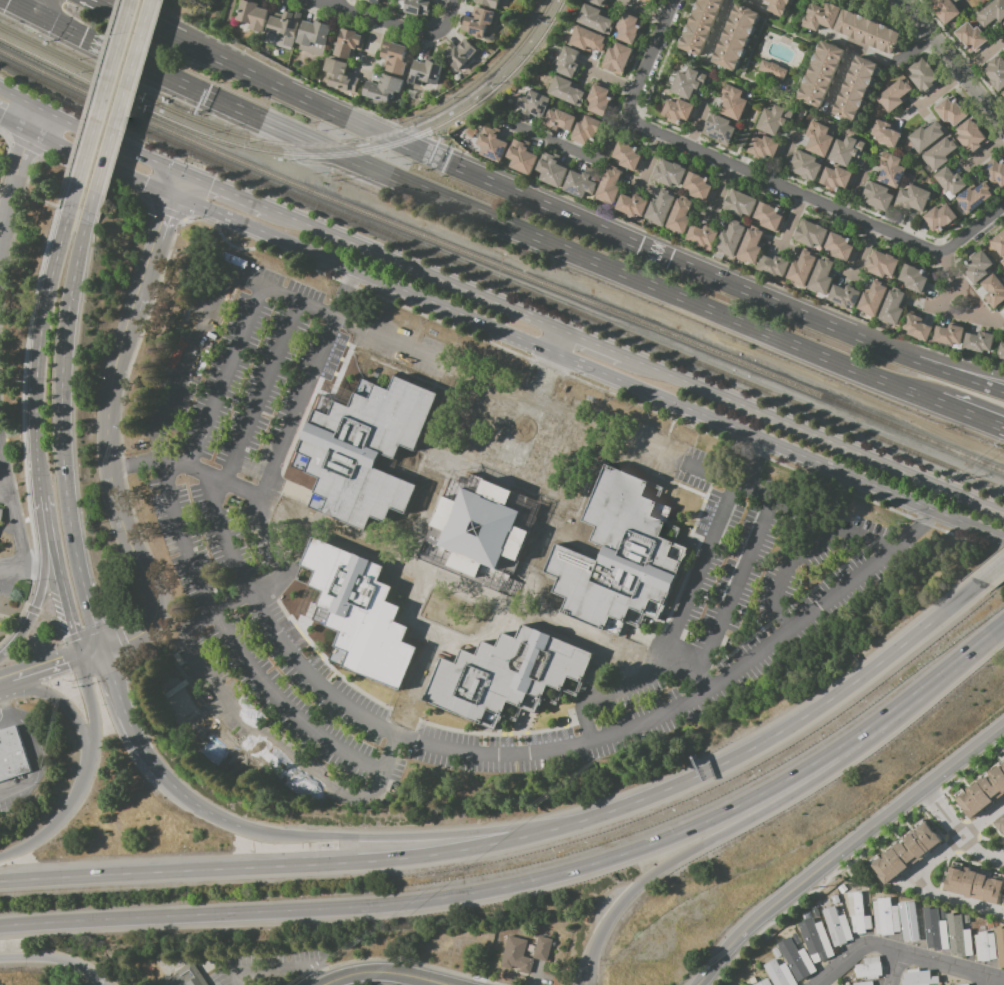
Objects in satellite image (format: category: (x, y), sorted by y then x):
building: (953, 0)
building: (955, 0)
building: (373, 1)
building: (649, 1)
road: (333, 2)
building: (599, 2)
building: (488, 3)
road: (754, 3)
road: (16, 4)
road: (25, 4)
building: (779, 6)
road: (42, 7)
building: (416, 7)
traffic signals: (24, 8)
building: (945, 10)
road: (31, 11)
building: (991, 13)
building: (252, 14)
traffic signals: (39, 15)
building: (822, 16)
road: (915, 18)
building: (595, 19)
building: (479, 22)
building: (284, 23)
road: (392, 23)
road: (176, 24)
building: (701, 25)
building: (1003, 25)
building: (627, 27)
road: (719, 27)
road: (770, 27)
road: (156, 29)
building: (868, 31)
road: (77, 33)
building: (313, 37)
building: (736, 37)
building: (971, 37)
building: (589, 40)
road: (820, 40)
building: (348, 43)
road: (373, 49)
railway: (6, 53)
building: (460, 55)
road: (879, 56)
road: (979, 56)
building: (394, 58)
building: (617, 58)
road: (647, 59)
road: (752, 61)
building: (568, 62)
railway: (14, 66)
building: (772, 69)
building: (425, 73)
building: (820, 74)
building: (995, 74)
building: (339, 75)
building: (924, 75)
railway: (99, 76)
road: (840, 76)
railway: (505, 78)
road: (610, 79)
building: (688, 82)
railway: (97, 85)
road: (967, 85)
building: (383, 88)
building: (855, 88)
road: (936, 90)
building: (566, 91)
building: (894, 94)
traffic signals: (209, 95)
road: (796, 95)
road: (128, 96)
building: (1002, 96)
building: (599, 100)
building: (732, 102)
building: (532, 105)
building: (678, 110)
building: (951, 111)
road: (698, 118)
road: (1, 119)
building: (774, 119)
building: (559, 120)
road: (16, 123)
building: (719, 128)
railway: (398, 130)
building: (587, 130)
road: (91, 132)
building: (885, 133)
building: (972, 135)
building: (926, 136)
building: (818, 138)
building: (491, 147)
building: (765, 147)
building: (846, 150)
road: (573, 151)
road: (984, 152)
building: (939, 153)
railway: (309, 155)
building: (627, 156)
building: (522, 157)
road: (650, 157)
road: (782, 158)
traffic signals: (439, 159)
road: (103, 165)
building: (806, 165)
building: (890, 169)
building: (551, 172)
building: (994, 172)
building: (668, 173)
road: (18, 176)
building: (836, 178)
building: (950, 180)
traffic signals: (144, 184)
building: (579, 184)
road: (179, 185)
traffic signals: (211, 185)
building: (609, 185)
building: (698, 186)
road: (856, 189)
road: (223, 190)
road: (718, 191)
road: (78, 195)
building: (878, 196)
building: (974, 197)
building: (914, 198)
road: (534, 199)
road: (820, 200)
building: (739, 204)
building: (631, 205)
road: (4, 206)
building: (660, 207)
road: (475, 211)
building: (680, 215)
traffic signals: (168, 216)
building: (769, 216)
building: (940, 218)
road: (790, 220)
building: (810, 234)
road: (264, 235)
building: (703, 235)
building: (731, 237)
building: (998, 243)
building: (750, 246)
building: (840, 246)
road: (155, 253)
building: (1003, 262)
building: (881, 264)
building: (774, 266)
railway: (507, 267)
building: (802, 267)
building: (978, 267)
road: (412, 270)
building: (822, 276)
building: (913, 278)
railway: (513, 286)
building: (994, 289)
building: (844, 295)
building: (873, 297)
building: (1003, 303)
building: (892, 306)
road: (976, 315)
road: (985, 316)
building: (917, 327)
building: (949, 335)
building: (978, 341)
road: (604, 349)
road: (893, 349)
building: (1002, 350)
road: (550, 366)
road: (657, 371)
road: (969, 371)
road: (865, 374)
road: (969, 376)
road: (226, 380)
road: (306, 384)
road: (111, 389)
road: (180, 394)
road: (262, 395)
road: (948, 406)
road: (678, 407)
road: (64, 421)
road: (501, 429)
road: (39, 442)
road: (543, 446)
road: (836, 447)
building: (363, 448)
road: (751, 464)
road: (185, 470)
road: (508, 473)
road: (7, 495)
road: (15, 507)
building: (1, 513)
road: (45, 515)
building: (480, 528)
parking lot: (792, 528)
road: (913, 531)
building: (621, 556)
road: (994, 569)
road: (13, 571)
road: (790, 571)
road: (148, 576)
road: (64, 597)
road: (729, 600)
road: (37, 604)
building: (356, 612)
traffic signals: (74, 632)
road: (674, 637)
traffic signals: (126, 641)
traffic signals: (101, 649)
road: (90, 652)
traffic signals: (66, 662)
road: (40, 670)
traffic signals: (110, 672)
building: (508, 676)
road: (704, 679)
road: (213, 686)
road: (694, 700)
road: (10, 701)
road: (124, 711)
road: (78, 719)
road: (798, 720)
road: (8, 724)
road: (96, 731)
building: (12, 754)
park: (231, 762)
road: (40, 764)
road: (167, 779)
building: (983, 792)
road: (207, 810)
building: (1001, 823)
road: (730, 828)
road: (957, 832)
road: (41, 837)
road: (414, 837)
road: (957, 839)
road: (845, 847)
building: (905, 853)
road: (295, 865)
road: (535, 880)
building: (974, 884)
building: (841, 888)
road: (958, 899)
building: (834, 900)
building: (910, 904)
building: (1003, 907)
building: (929, 909)
building: (942, 912)
building: (858, 913)
building: (885, 916)
building: (820, 925)
building: (912, 926)
building: (989, 926)
building: (836, 927)
building: (935, 930)
building: (960, 936)
building: (819, 945)
building: (985, 946)
building: (1001, 947)
building: (514, 948)
building: (776, 952)
road: (903, 955)
road: (55, 961)
building: (798, 961)
parking lot: (266, 967)
building: (869, 968)
road: (894, 969)
road: (382, 971)
road: (537, 972)
road: (279, 973)
building: (779, 973)
road: (587, 975)
building: (183, 977)
building: (918, 978)
building: (752, 980)
road: (986, 981)
building: (764, 982)
building: (863, 983)
building: (965, 984)

